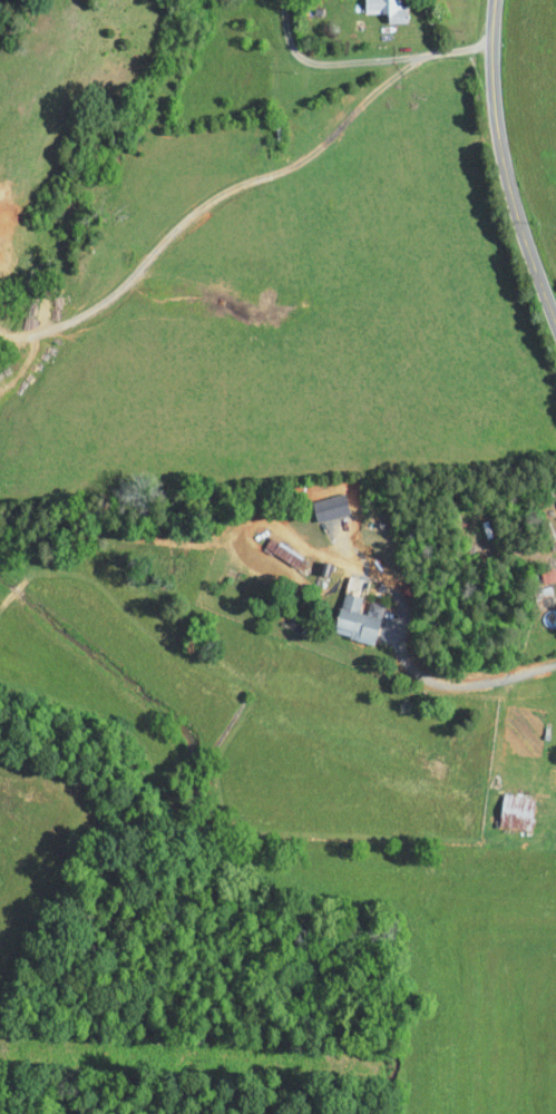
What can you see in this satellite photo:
building: (375, 6)
road: (368, 59)
road: (507, 163)
building: (555, 499)
building: (329, 507)
building: (355, 618)
road: (458, 683)
building: (515, 811)

